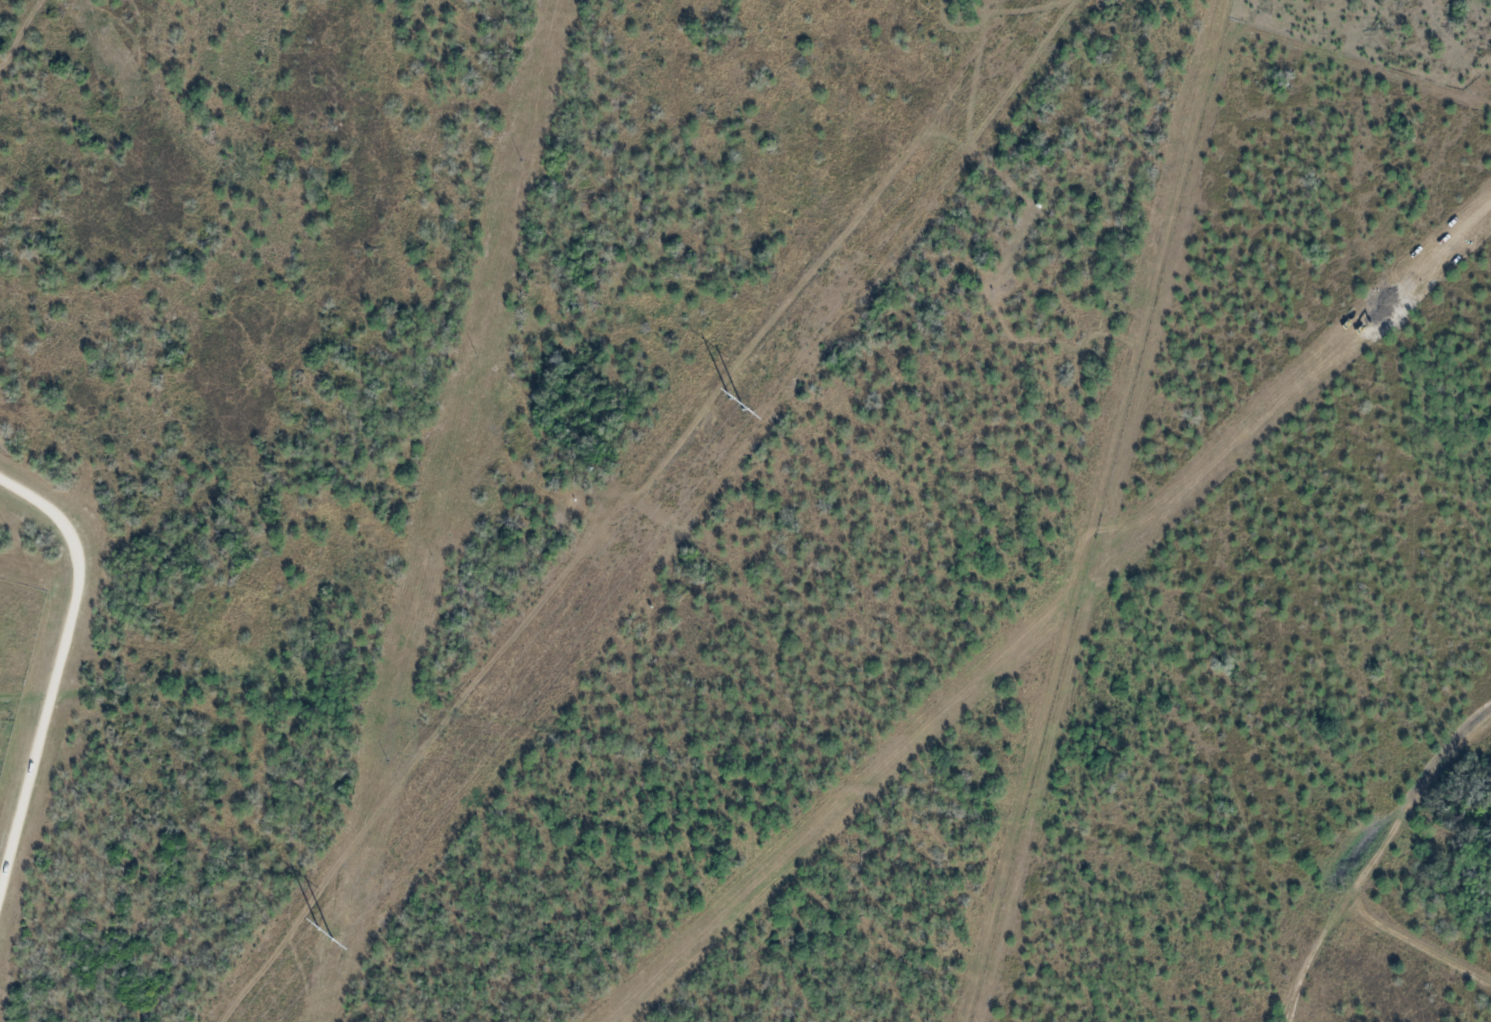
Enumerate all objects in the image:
power tower: (745, 398)
power tower: (334, 929)

